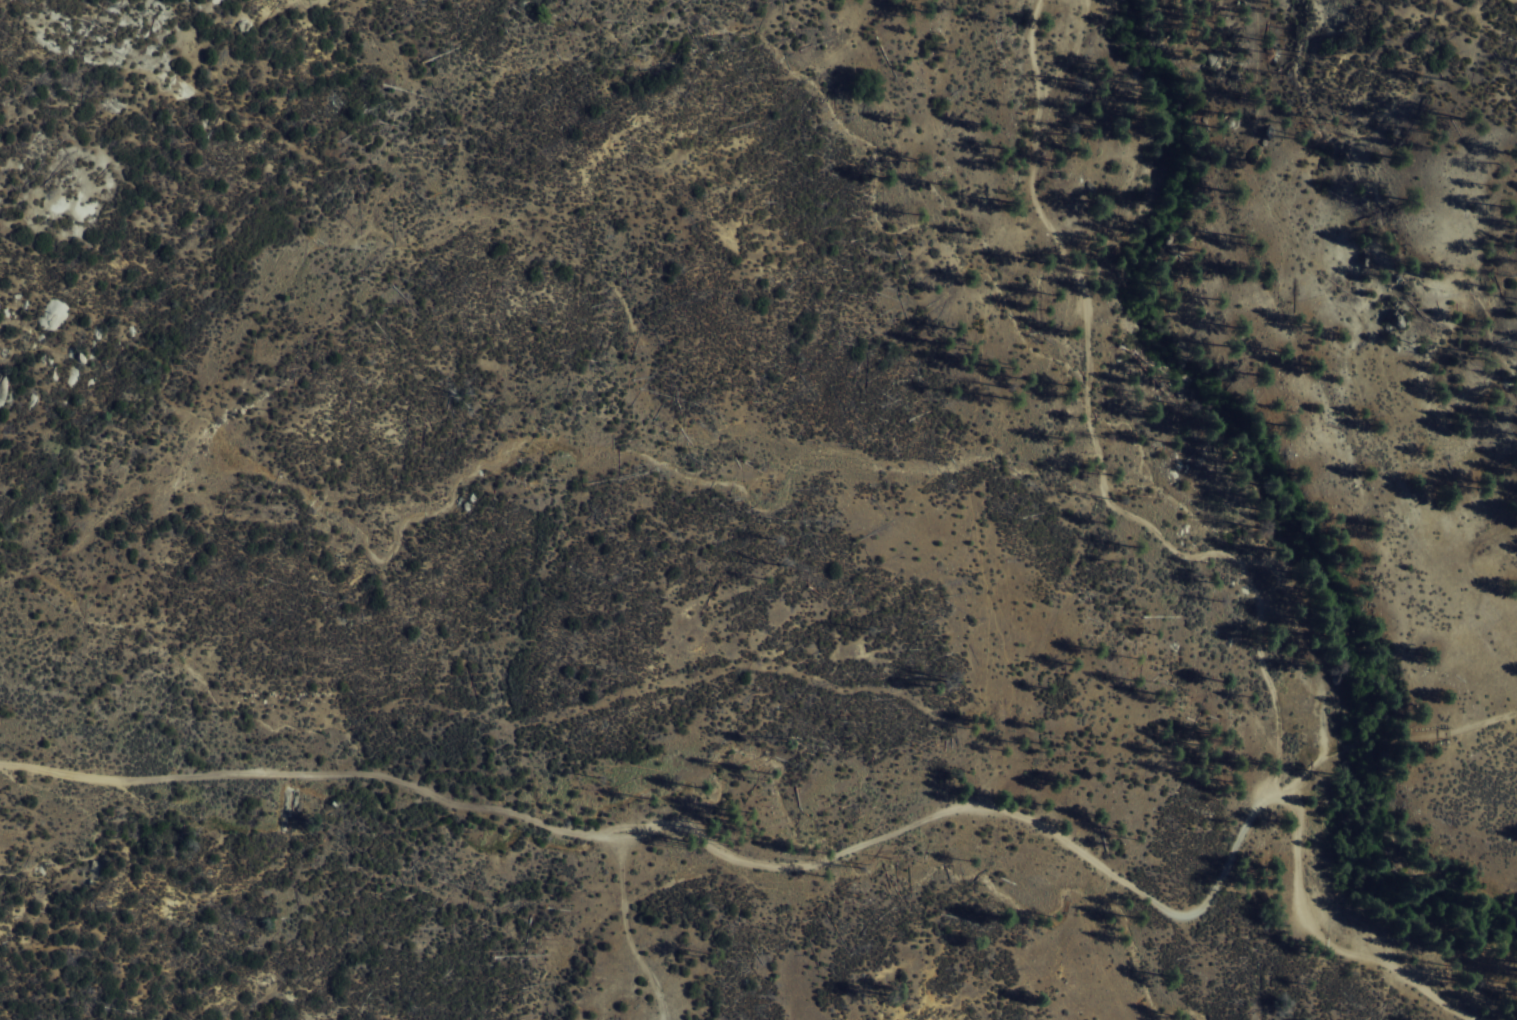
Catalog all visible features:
road: (788, 855)
road: (1320, 933)

